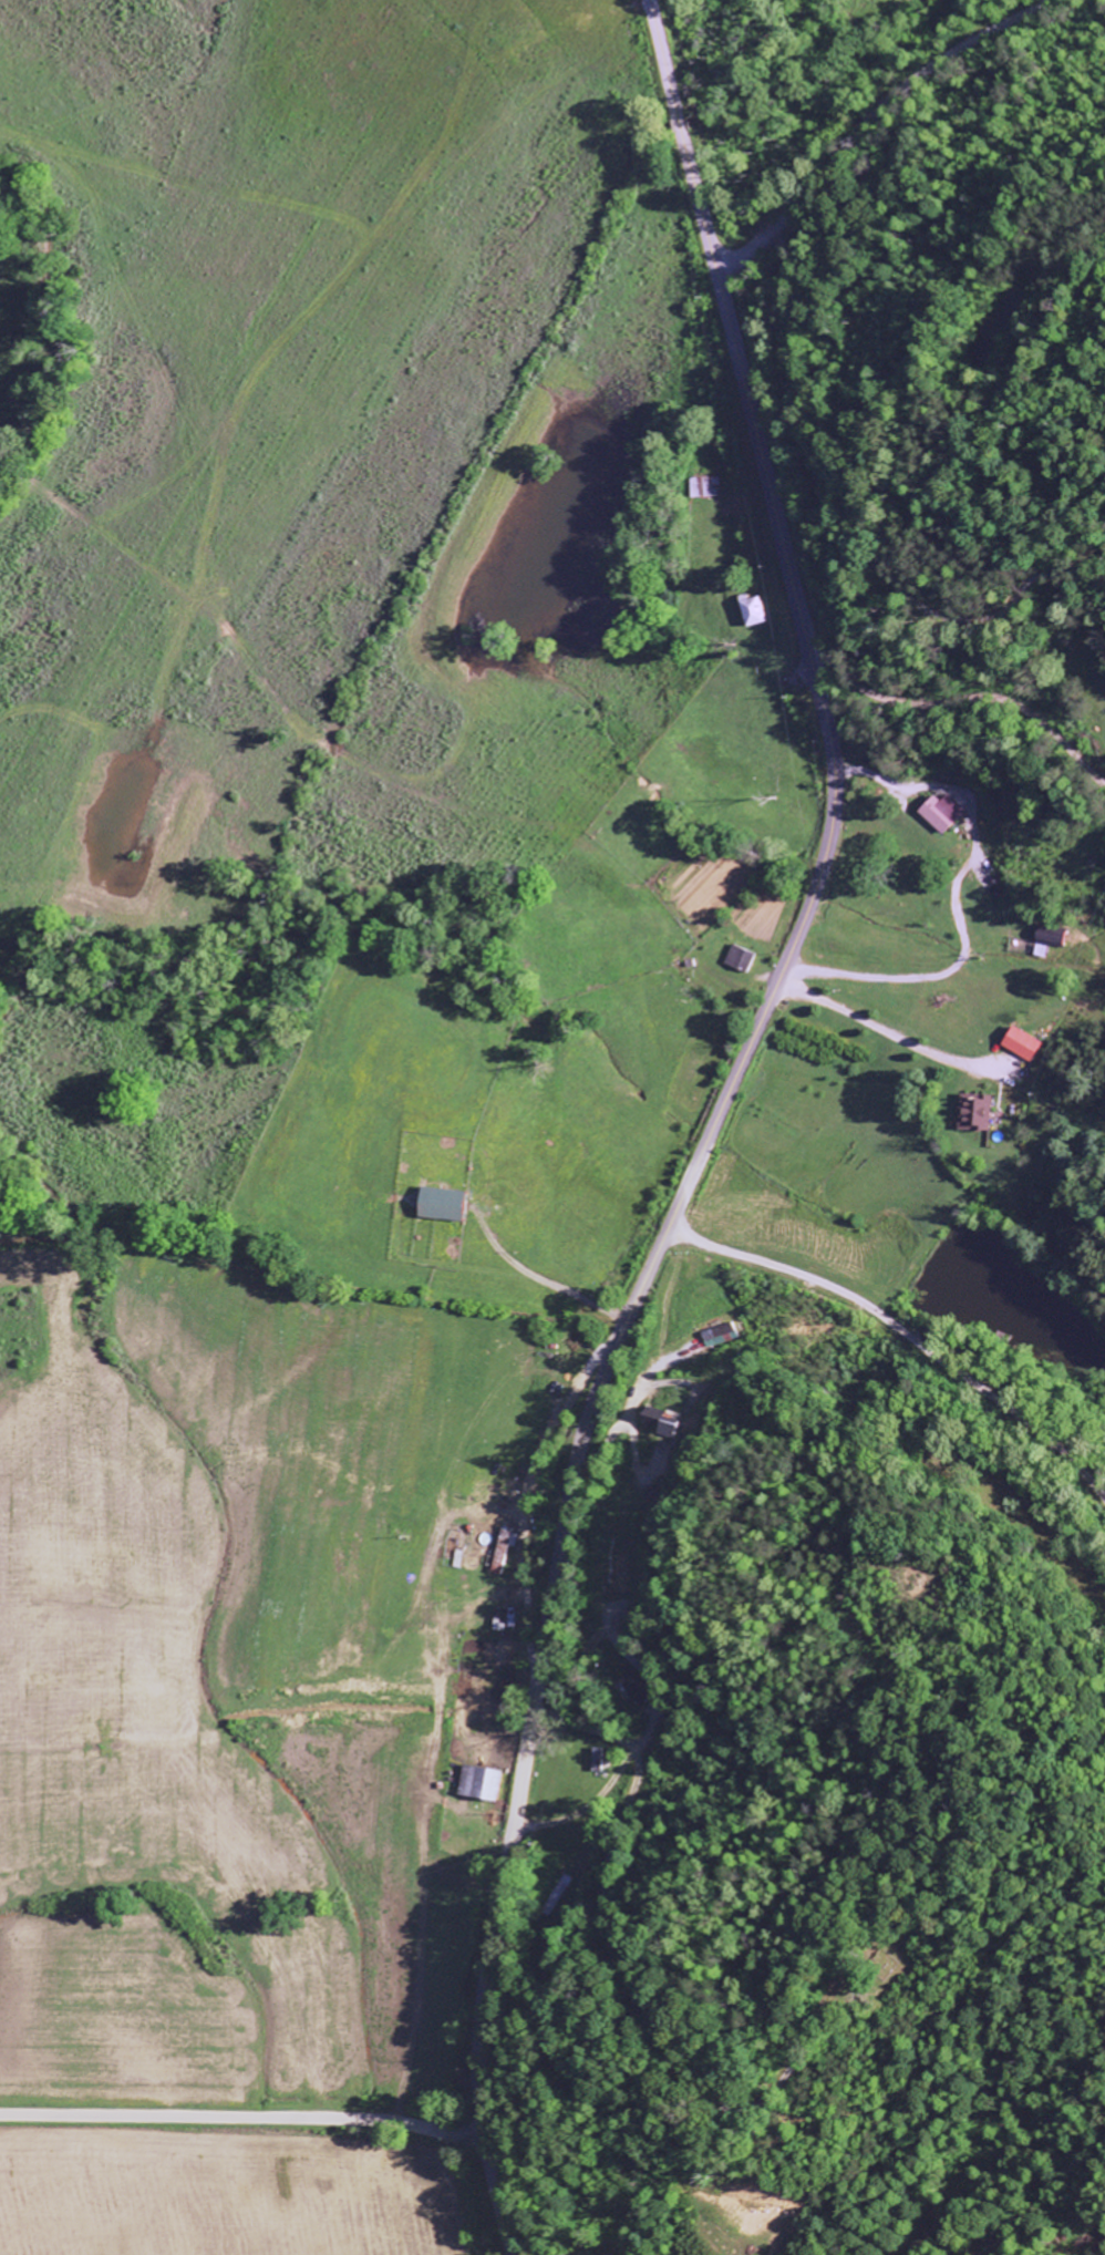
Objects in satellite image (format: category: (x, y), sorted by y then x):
road: (869, 117)
building: (758, 611)
building: (949, 813)
building: (743, 958)
building: (1024, 1044)
road: (712, 1124)
building: (452, 1205)
building: (505, 1548)
building: (502, 1619)
building: (639, 1689)
building: (485, 1782)
road: (240, 2118)

